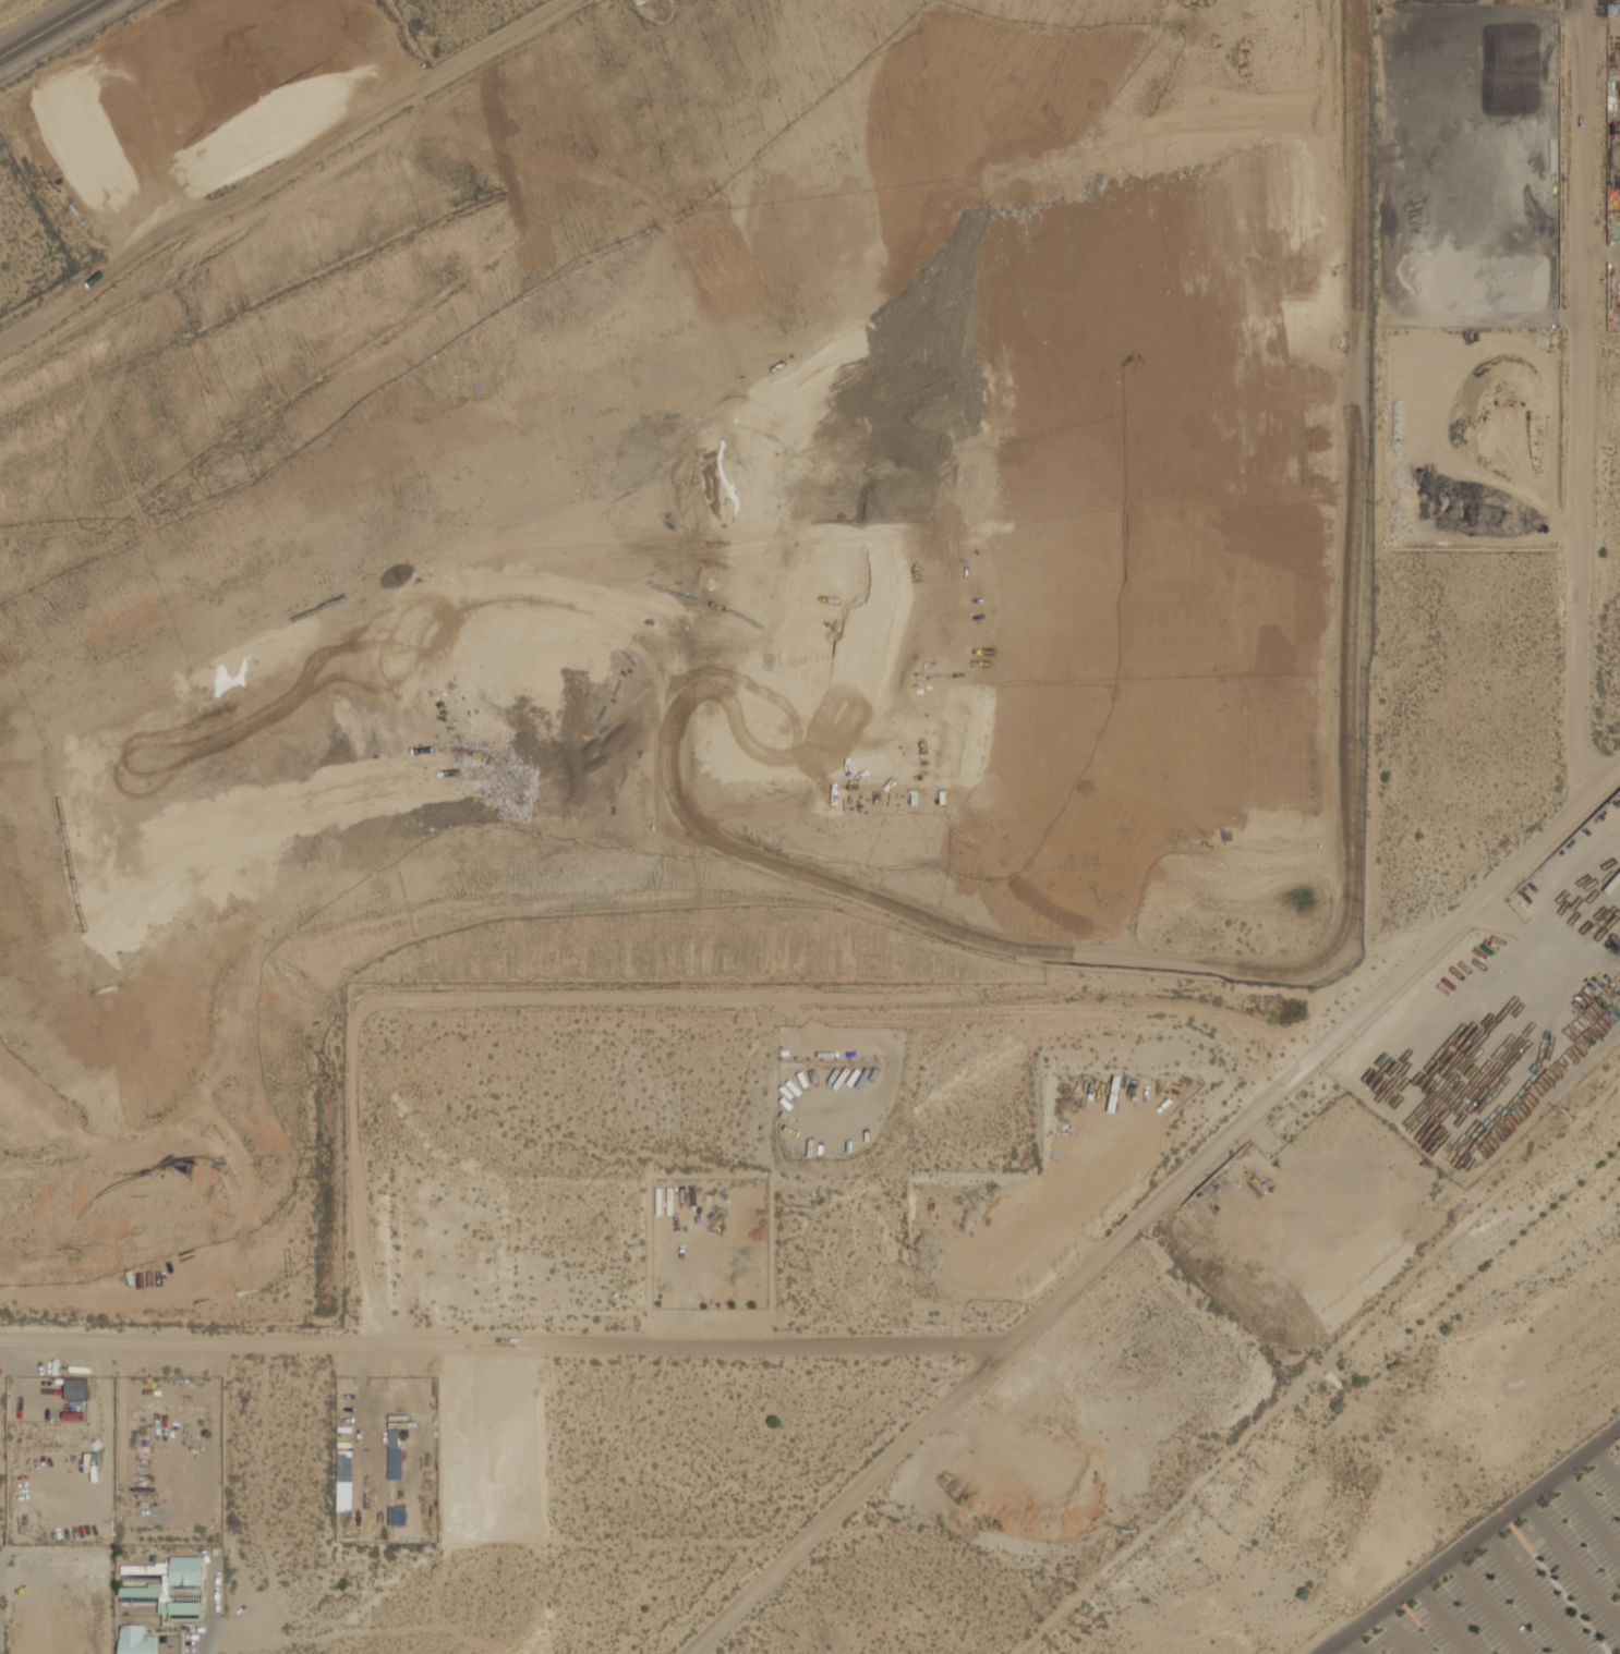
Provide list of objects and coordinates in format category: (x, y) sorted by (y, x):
road: (51, 29)
landfill: (634, 768)
road: (1597, 779)
power tower: (1575, 1115)
road: (1216, 1145)
building: (76, 1387)
road: (1605, 1467)
building: (344, 1479)
road: (847, 1506)
road: (1587, 1516)
power tower: (1134, 1530)
road: (1470, 1539)
road: (1571, 1565)
building: (165, 1585)
road: (1531, 1592)
road: (1485, 1605)
road: (1439, 1618)
road: (1395, 1631)
road: (207, 1637)
building: (137, 1640)
road: (1350, 1645)

